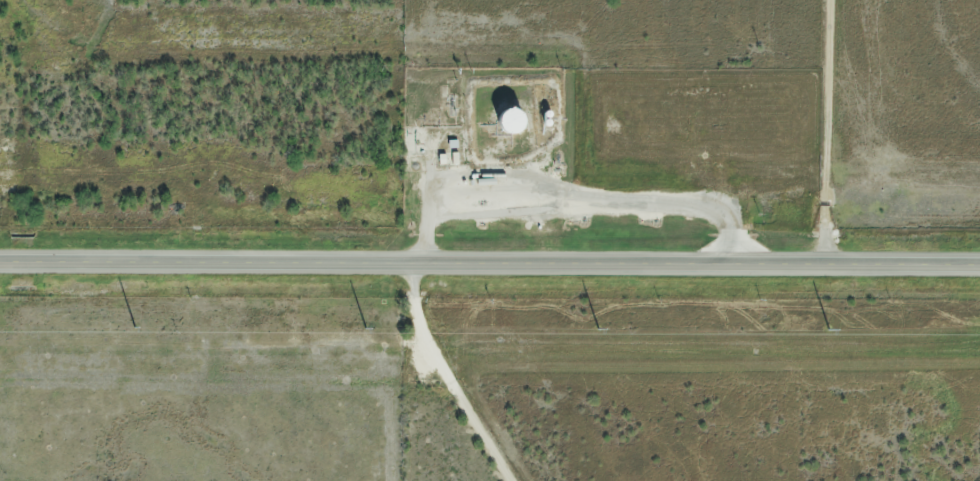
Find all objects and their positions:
road: (489, 261)
power tower: (136, 326)
power tower: (365, 326)
power tower: (599, 327)
power tower: (831, 328)
road: (437, 373)

